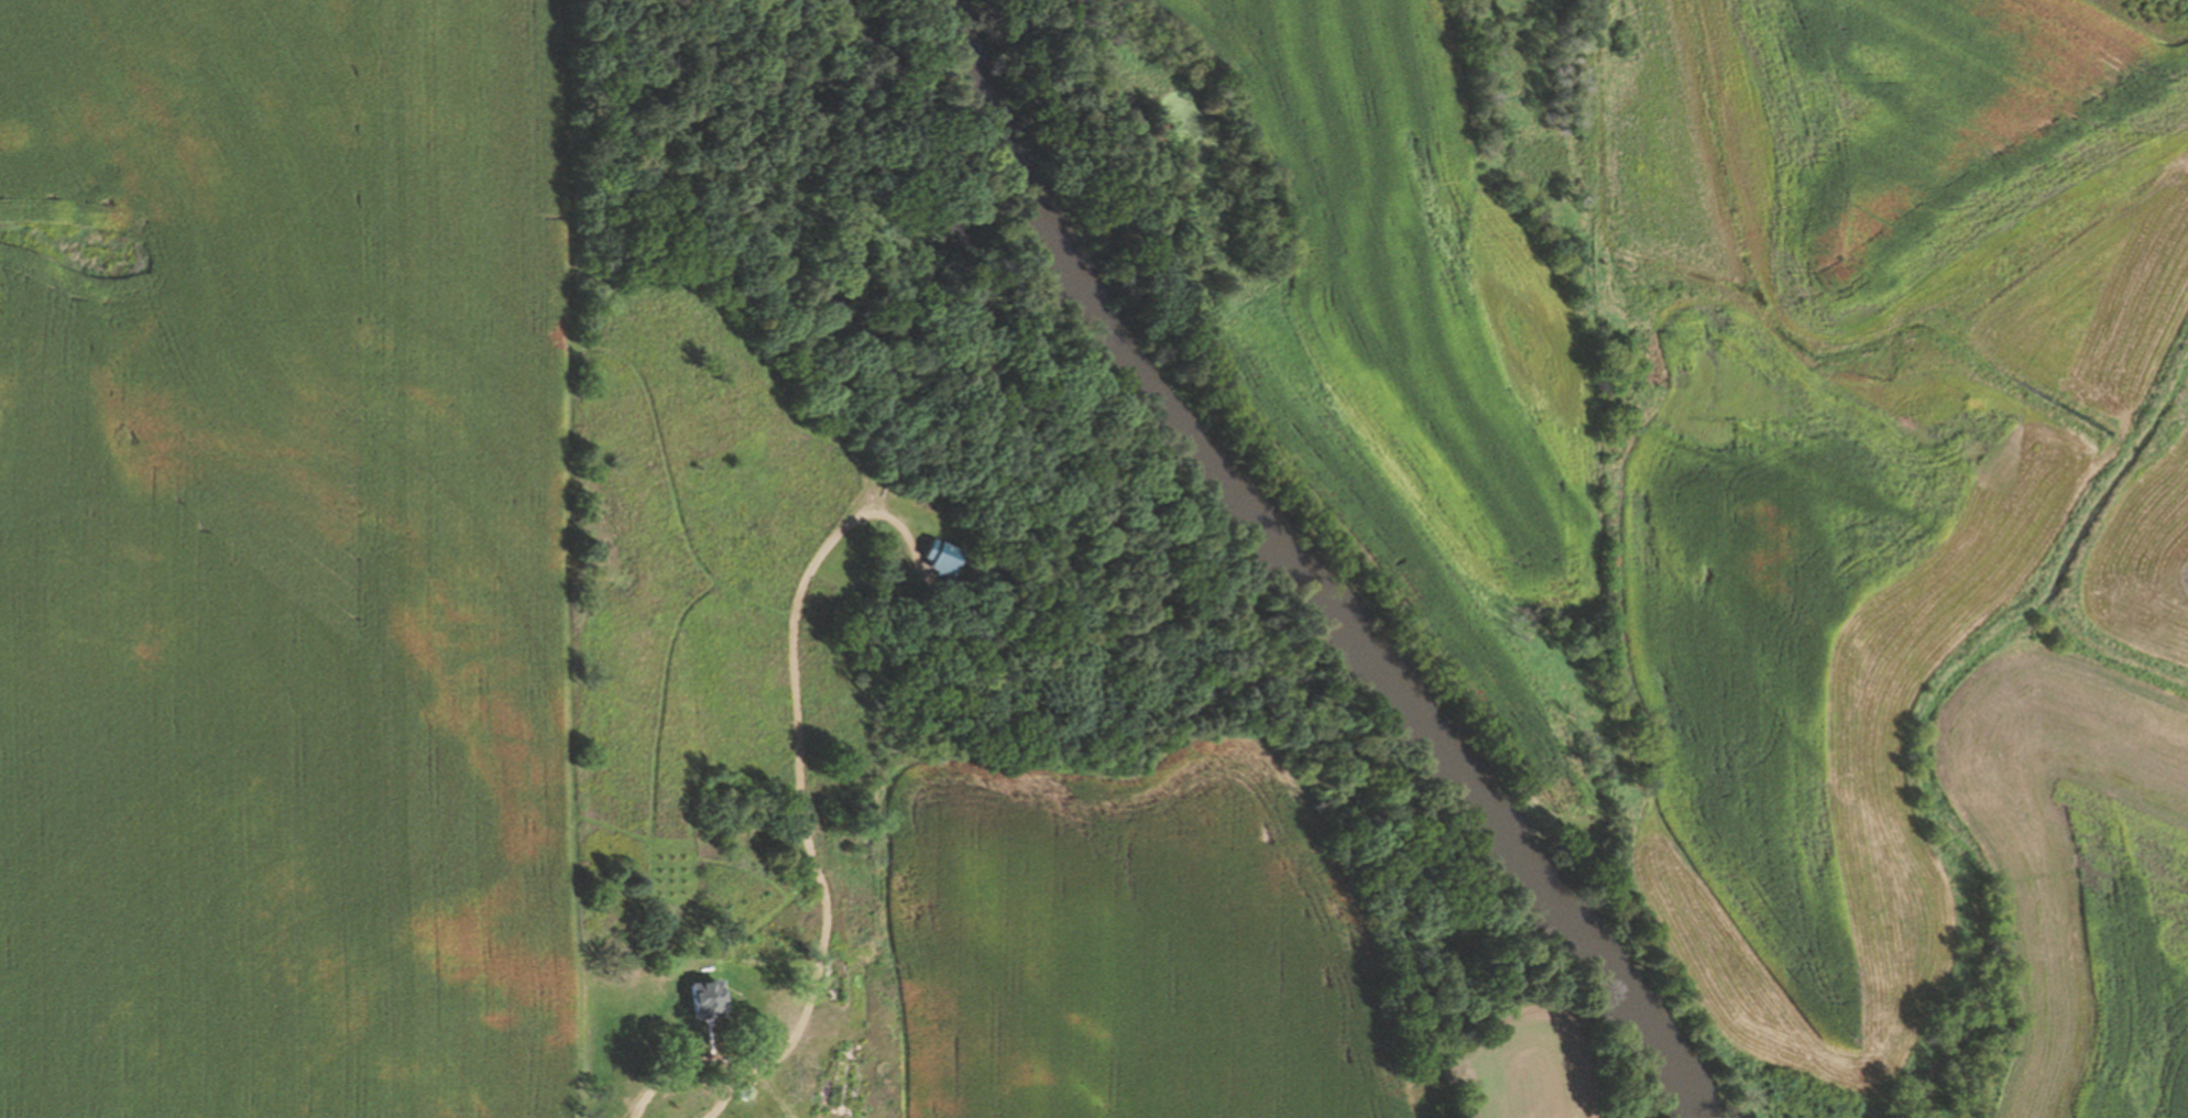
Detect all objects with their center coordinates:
building: (933, 569)
river: (1274, 573)
road: (802, 785)
building: (697, 999)

